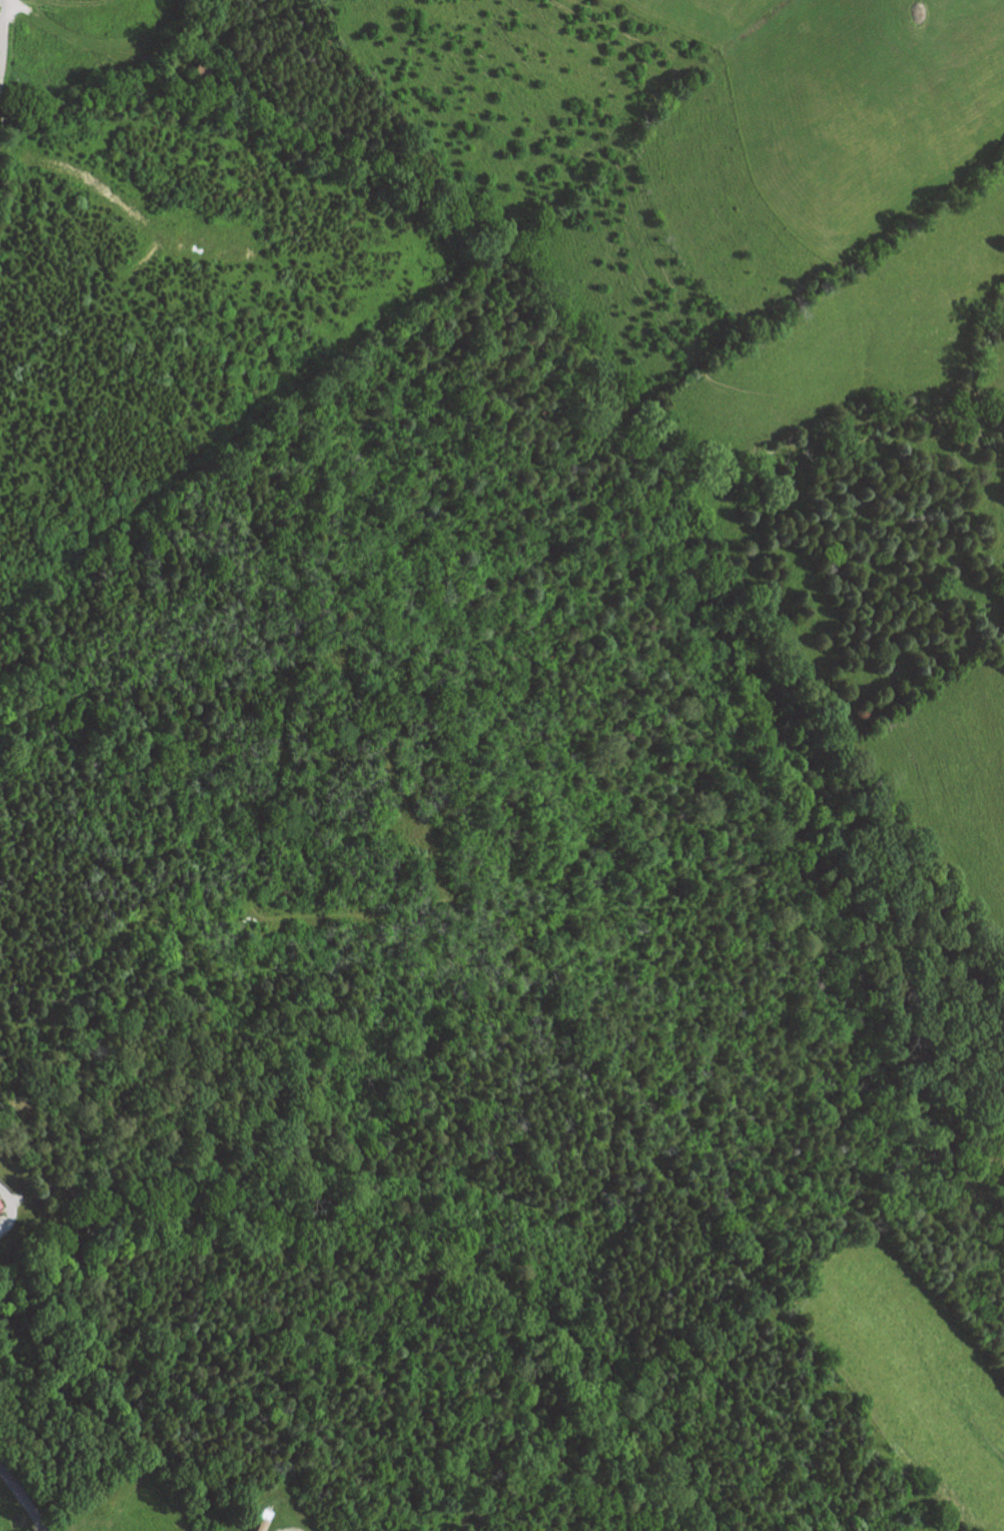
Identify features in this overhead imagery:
road: (2, 38)
building: (204, 71)
road: (79, 172)
road: (13, 1208)
road: (23, 1498)
building: (262, 1524)
road: (290, 1529)

